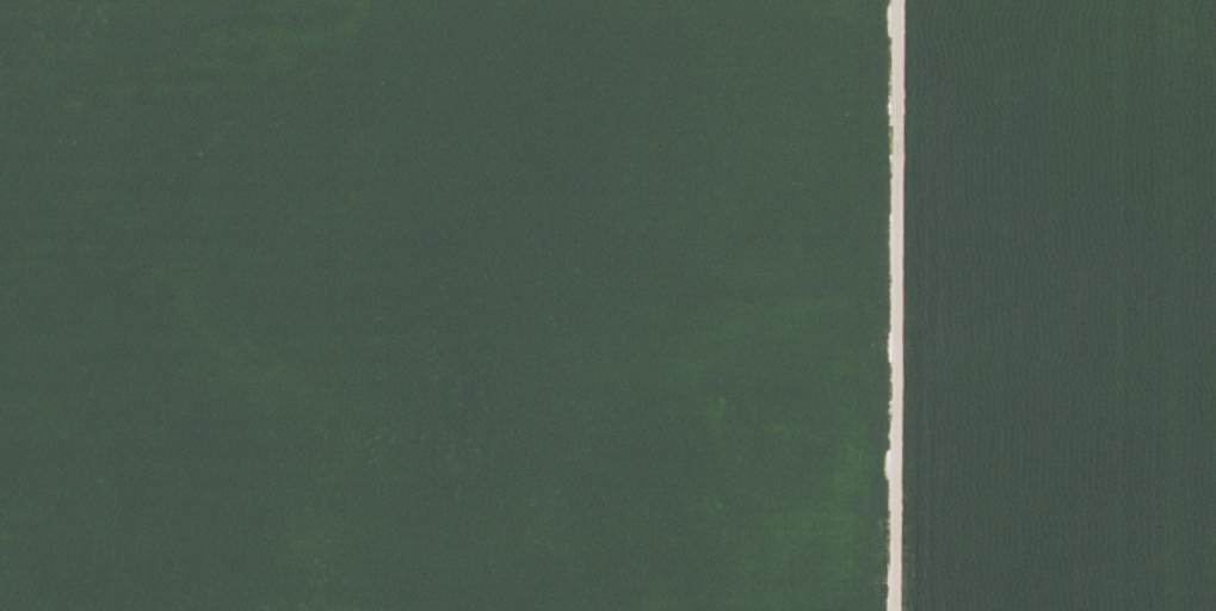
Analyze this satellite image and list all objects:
road: (902, 305)

